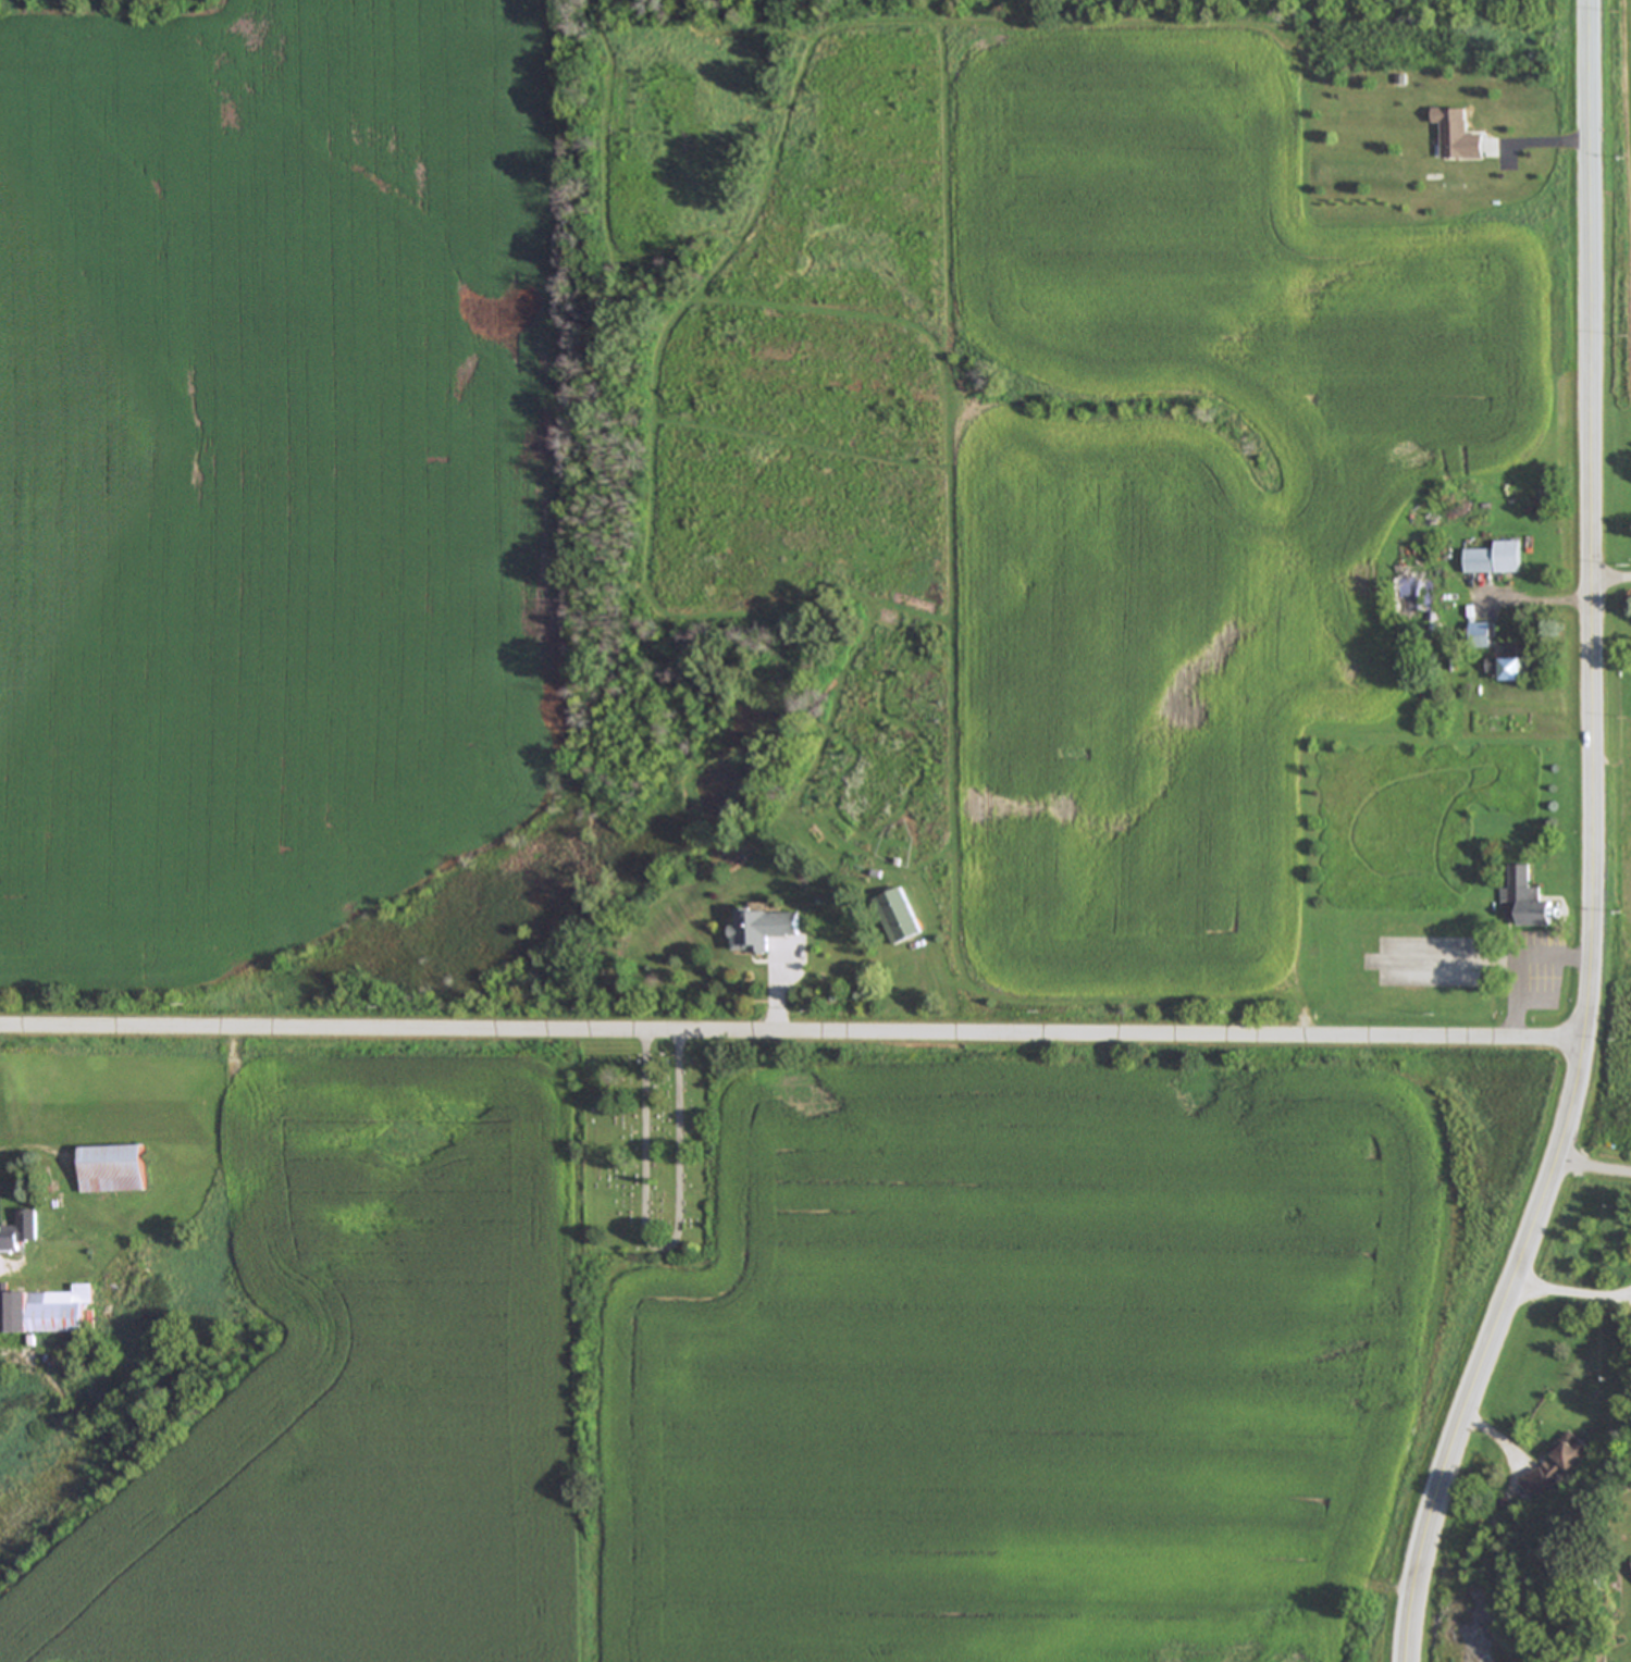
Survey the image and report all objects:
building: (1461, 136)
building: (1498, 561)
road: (1614, 575)
building: (1414, 600)
building: (1512, 665)
road: (1594, 844)
building: (1525, 904)
building: (901, 919)
building: (766, 931)
road: (1520, 962)
road: (793, 1034)
road: (1594, 1159)
park: (646, 1165)
building: (115, 1170)
building: (22, 1233)
road: (1573, 1287)
building: (49, 1314)
building: (1549, 1468)

